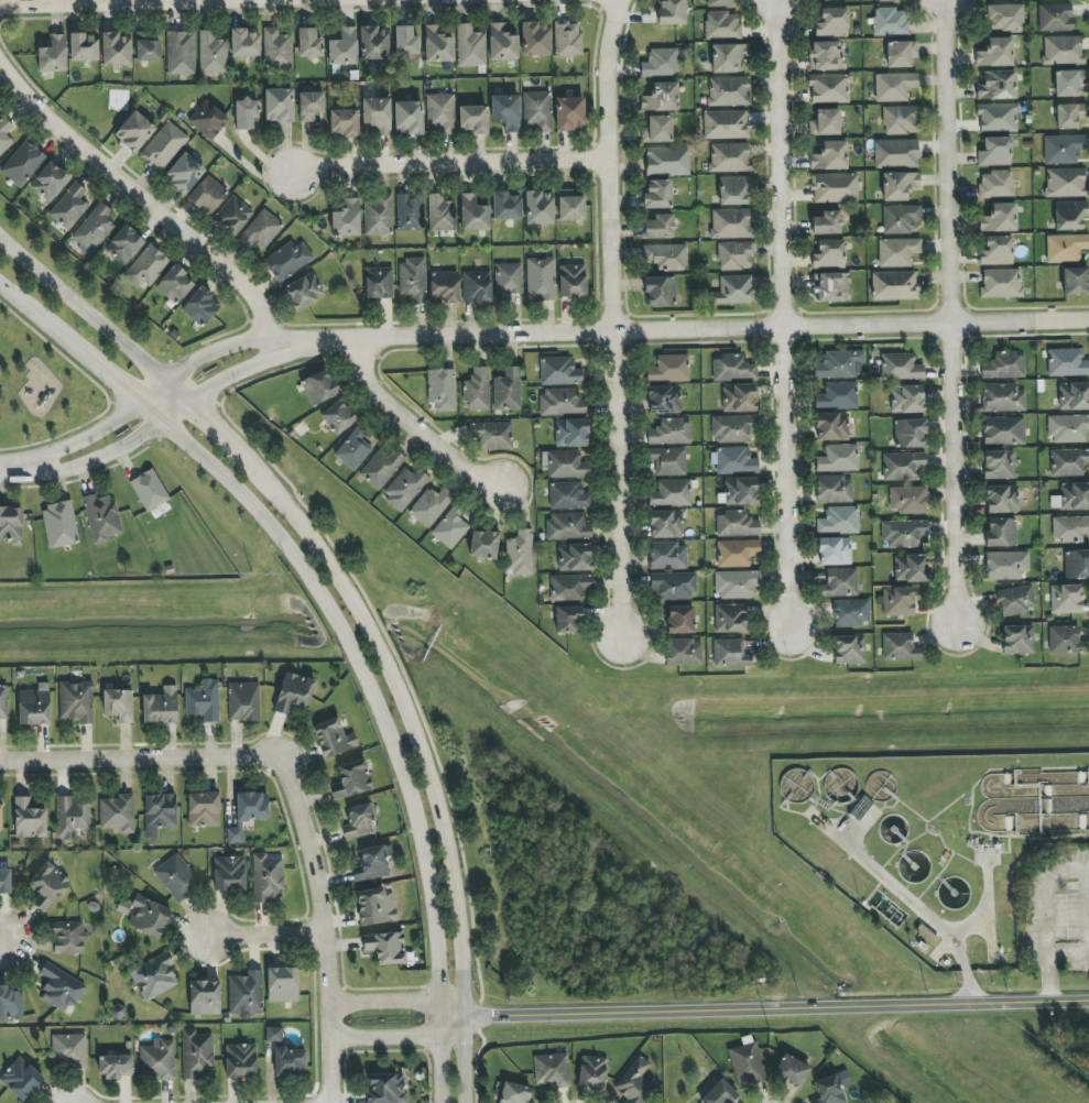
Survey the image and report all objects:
building: (825, 0)
building: (886, 1)
building: (716, 2)
road: (309, 7)
building: (671, 12)
building: (1005, 18)
building: (1055, 18)
building: (891, 21)
building: (832, 22)
building: (722, 25)
building: (535, 39)
building: (567, 39)
building: (405, 41)
building: (244, 43)
building: (308, 43)
building: (374, 43)
building: (502, 43)
building: (437, 45)
building: (470, 46)
building: (83, 47)
building: (146, 47)
building: (344, 47)
building: (276, 48)
building: (116, 50)
building: (1063, 50)
building: (181, 53)
building: (211, 53)
building: (995, 53)
building: (901, 54)
building: (53, 55)
building: (826, 56)
building: (728, 57)
building: (660, 63)
building: (1069, 83)
building: (894, 86)
building: (997, 86)
building: (829, 88)
building: (728, 91)
building: (661, 98)
building: (279, 105)
building: (311, 106)
building: (537, 110)
building: (505, 111)
building: (246, 113)
building: (440, 113)
building: (377, 114)
building: (569, 114)
building: (1069, 114)
building: (409, 118)
building: (998, 118)
building: (473, 119)
building: (207, 120)
building: (901, 120)
building: (344, 122)
building: (825, 122)
building: (726, 124)
building: (657, 130)
building: (134, 131)
building: (4, 134)
building: (163, 148)
building: (1063, 149)
building: (994, 152)
building: (896, 153)
building: (830, 156)
building: (729, 157)
building: (667, 161)
building: (23, 164)
road: (453, 167)
building: (184, 173)
building: (50, 182)
building: (1066, 183)
building: (995, 184)
building: (899, 185)
building: (835, 187)
building: (734, 189)
road: (138, 195)
building: (207, 195)
building: (657, 195)
building: (505, 206)
building: (570, 206)
building: (69, 207)
building: (538, 207)
building: (410, 214)
building: (442, 214)
building: (472, 214)
building: (1069, 215)
building: (232, 216)
building: (378, 216)
building: (347, 218)
building: (999, 218)
building: (900, 219)
building: (731, 223)
building: (827, 223)
building: (658, 227)
building: (94, 228)
building: (261, 230)
building: (124, 244)
building: (1066, 248)
building: (997, 251)
building: (897, 252)
building: (829, 254)
building: (734, 255)
building: (665, 256)
building: (287, 260)
building: (146, 266)
building: (541, 279)
building: (413, 280)
building: (509, 280)
building: (573, 281)
building: (1076, 281)
building: (379, 283)
building: (1001, 283)
building: (174, 285)
building: (894, 285)
building: (444, 286)
building: (477, 286)
building: (830, 287)
building: (304, 291)
building: (660, 291)
building: (734, 291)
building: (200, 306)
road: (83, 309)
road: (946, 310)
road: (782, 315)
road: (612, 324)
road: (682, 335)
road: (218, 352)
building: (1067, 362)
building: (839, 364)
building: (1004, 365)
building: (732, 368)
building: (901, 368)
building: (669, 369)
building: (559, 371)
road: (235, 376)
building: (319, 386)
building: (442, 390)
building: (477, 390)
building: (508, 390)
road: (178, 392)
building: (838, 396)
building: (1074, 396)
building: (739, 397)
building: (1002, 397)
building: (664, 400)
building: (907, 400)
building: (562, 402)
building: (338, 417)
road: (215, 426)
road: (417, 426)
building: (831, 426)
road: (95, 428)
building: (732, 428)
building: (1068, 428)
building: (1004, 430)
building: (571, 433)
building: (671, 433)
building: (910, 434)
building: (492, 436)
building: (353, 449)
road: (110, 452)
building: (839, 458)
building: (733, 460)
building: (668, 461)
building: (1068, 462)
building: (564, 465)
building: (999, 465)
building: (902, 466)
building: (381, 467)
road: (10, 471)
building: (405, 488)
building: (149, 490)
building: (834, 490)
building: (739, 491)
building: (672, 493)
building: (568, 496)
building: (1071, 496)
building: (1002, 499)
building: (907, 500)
building: (431, 505)
building: (101, 517)
building: (839, 520)
building: (11, 524)
building: (666, 524)
building: (736, 524)
building: (59, 525)
building: (450, 527)
building: (567, 527)
building: (1069, 528)
building: (1001, 532)
building: (904, 533)
building: (483, 544)
building: (834, 551)
building: (737, 553)
building: (520, 554)
building: (667, 556)
building: (574, 557)
building: (1006, 565)
building: (1077, 565)
building: (911, 568)
building: (840, 582)
building: (737, 583)
building: (674, 586)
building: (569, 587)
building: (1066, 599)
building: (899, 601)
building: (1015, 601)
building: (851, 612)
building: (730, 618)
building: (568, 620)
building: (680, 620)
road: (341, 629)
building: (1017, 640)
building: (1065, 640)
building: (900, 647)
building: (849, 649)
building: (684, 652)
building: (730, 653)
building: (294, 692)
building: (204, 700)
building: (76, 701)
building: (243, 701)
building: (3, 702)
building: (118, 705)
building: (34, 706)
building: (161, 707)
building: (333, 739)
road: (137, 749)
road: (422, 752)
building: (351, 780)
building: (204, 809)
building: (248, 812)
building: (118, 813)
building: (160, 813)
building: (1, 817)
building: (72, 817)
building: (29, 819)
building: (359, 822)
building: (372, 863)
road: (324, 869)
road: (1066, 871)
road: (1085, 871)
building: (229, 874)
building: (176, 877)
building: (266, 877)
building: (4, 881)
building: (47, 886)
road: (907, 900)
building: (375, 906)
building: (149, 916)
road: (269, 936)
building: (68, 938)
road: (2, 941)
building: (385, 947)
road: (1045, 953)
building: (154, 976)
building: (282, 984)
building: (61, 989)
building: (246, 993)
building: (205, 997)
road: (384, 1002)
building: (10, 1004)
road: (776, 1005)
road: (451, 1008)
road: (451, 1026)
building: (274, 1034)
road: (384, 1037)
building: (69, 1050)
road: (329, 1052)
building: (197, 1055)
building: (157, 1060)
building: (240, 1061)
building: (290, 1062)
building: (747, 1064)
building: (115, 1067)
building: (552, 1070)
building: (792, 1071)
building: (591, 1072)
building: (21, 1079)
building: (634, 1082)
building: (831, 1088)
building: (385, 1089)
building: (514, 1093)
building: (719, 1093)

